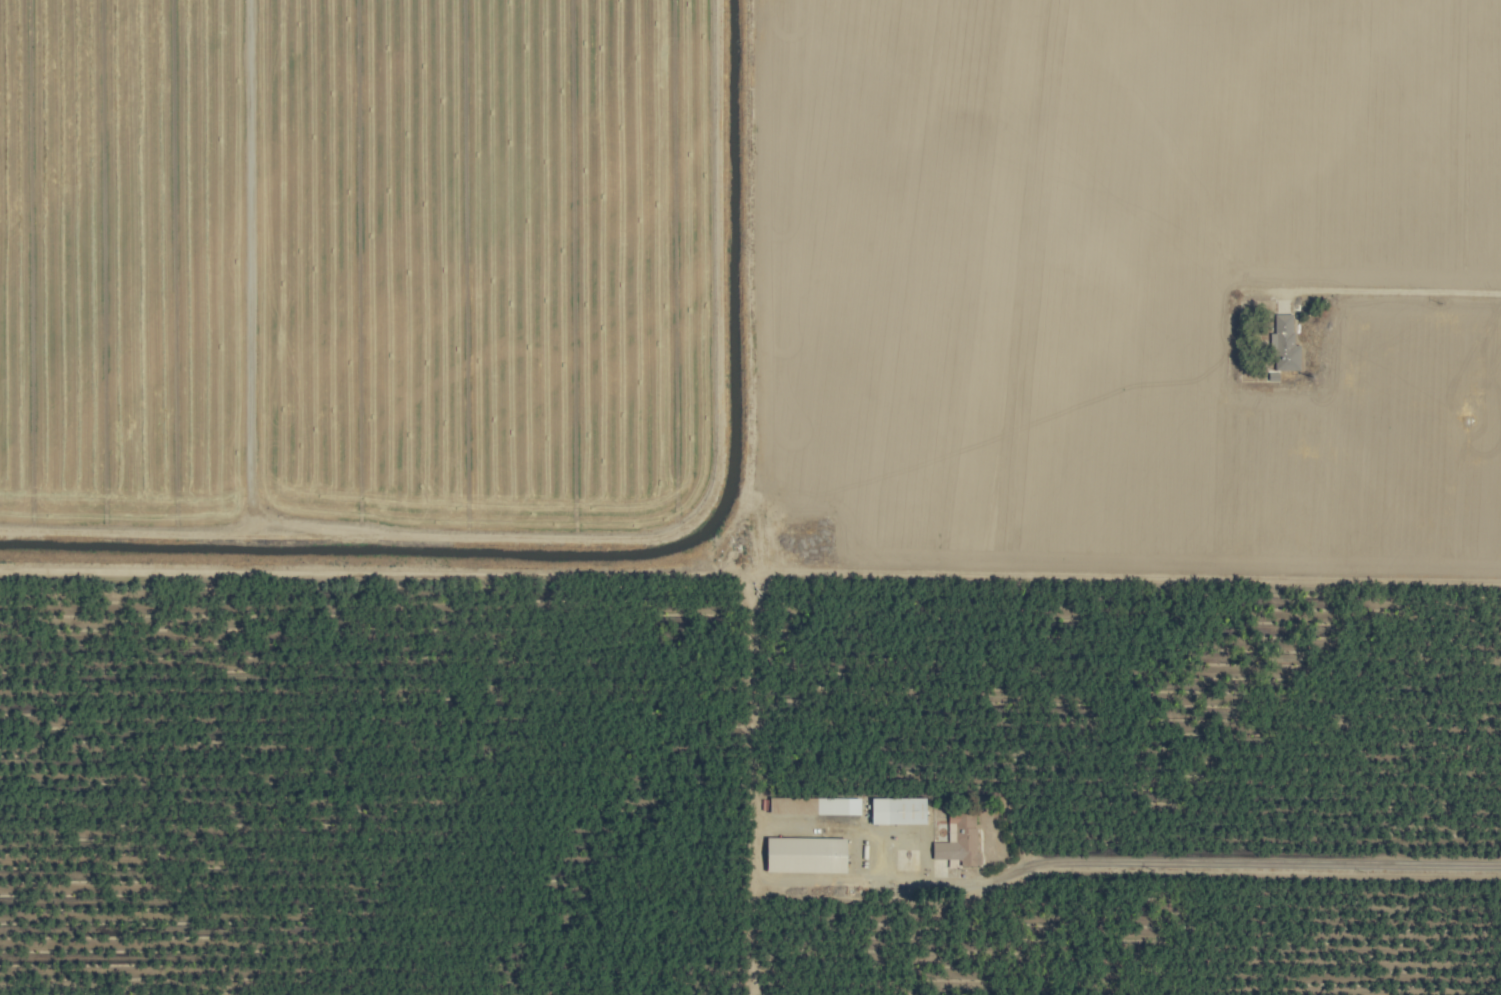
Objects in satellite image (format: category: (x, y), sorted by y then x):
road: (1382, 290)
building: (1287, 344)
crop: (750, 497)
building: (902, 810)
building: (962, 841)
building: (810, 854)
road: (1189, 862)

